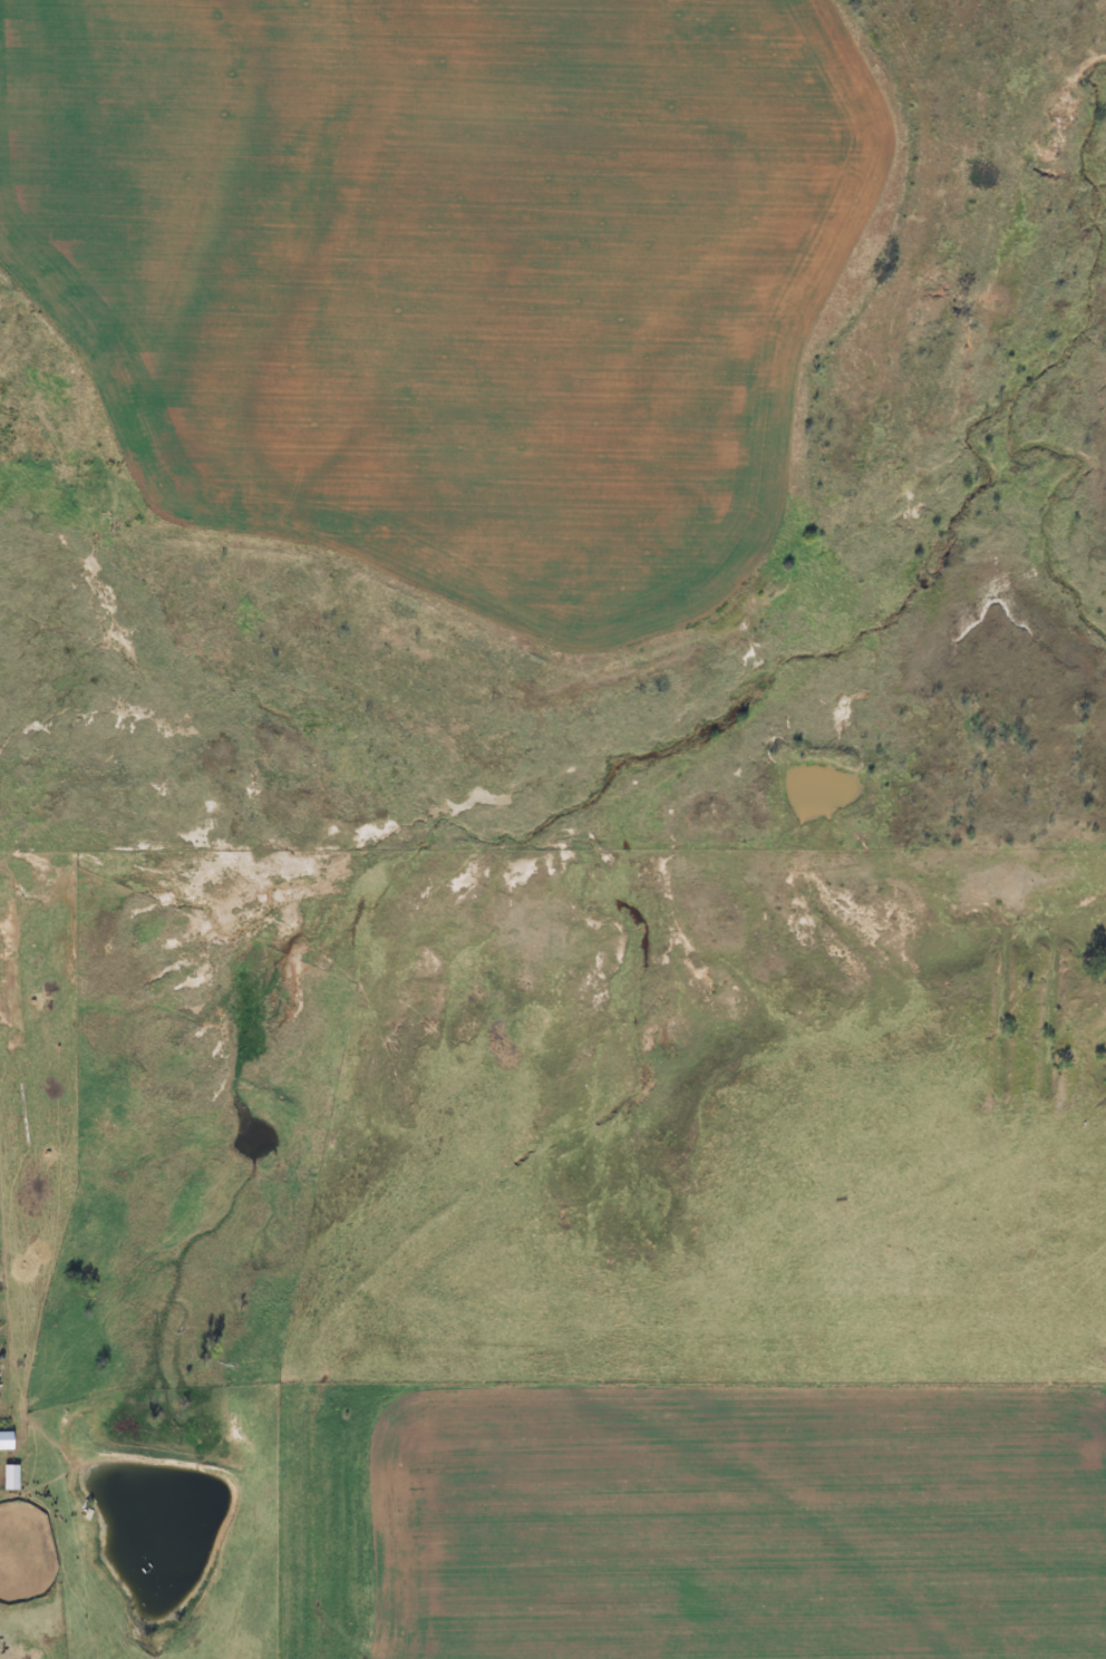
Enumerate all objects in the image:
building: (6, 1442)
building: (10, 1478)

